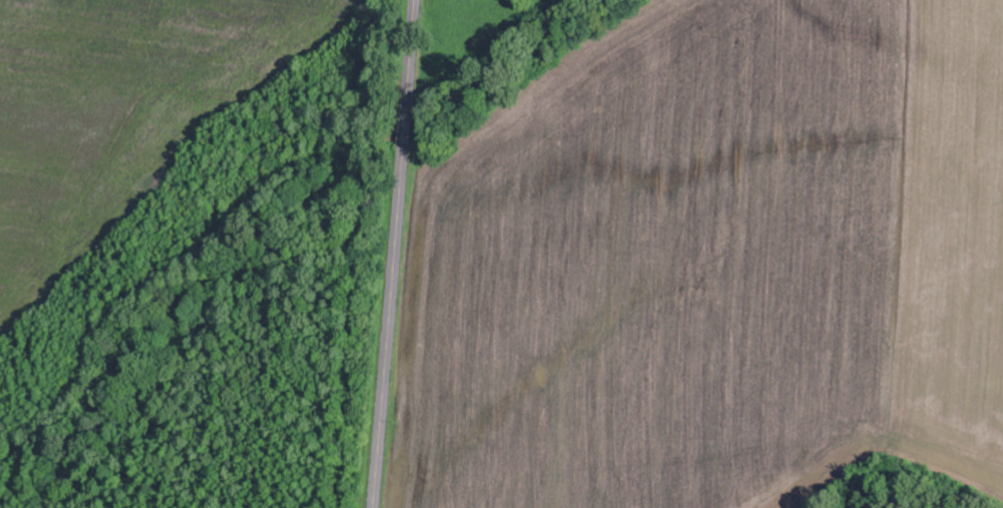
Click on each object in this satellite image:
road: (397, 254)

